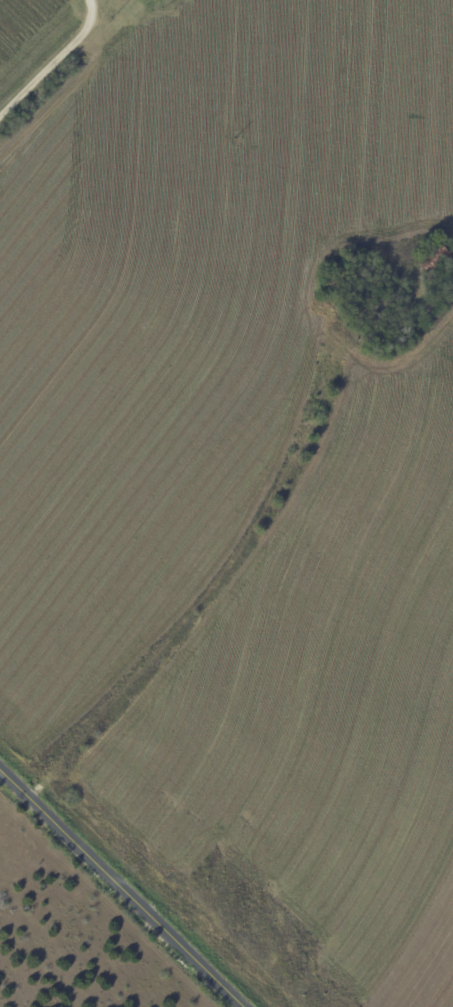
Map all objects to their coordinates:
road: (54, 63)
building: (355, 259)
building: (436, 263)
building: (338, 282)
road: (123, 886)

